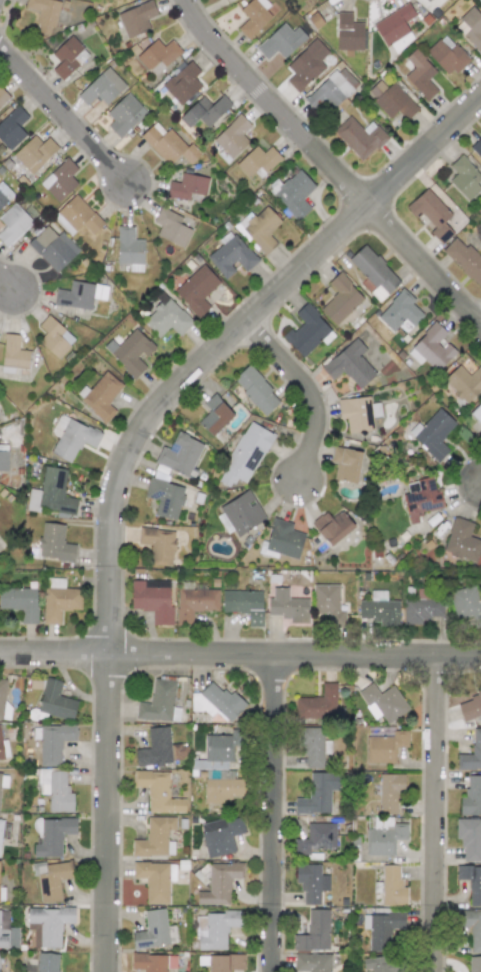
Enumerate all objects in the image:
building: (428, 0)
building: (480, 0)
building: (43, 14)
building: (254, 16)
building: (137, 18)
building: (394, 26)
building: (470, 27)
building: (281, 41)
building: (158, 53)
building: (447, 55)
building: (68, 57)
building: (306, 65)
building: (420, 74)
building: (182, 82)
building: (102, 88)
building: (329, 92)
building: (3, 96)
building: (391, 100)
building: (204, 111)
road: (66, 114)
building: (125, 114)
building: (12, 128)
building: (232, 136)
building: (360, 137)
building: (168, 145)
building: (476, 147)
building: (34, 153)
building: (257, 161)
road: (329, 165)
building: (465, 178)
building: (60, 180)
building: (187, 186)
building: (292, 193)
building: (4, 194)
building: (432, 214)
building: (77, 217)
building: (13, 224)
building: (171, 227)
building: (259, 229)
building: (53, 248)
building: (129, 249)
building: (231, 255)
building: (464, 259)
building: (374, 272)
road: (8, 282)
building: (197, 289)
building: (80, 295)
building: (340, 299)
building: (400, 311)
building: (167, 318)
building: (308, 331)
building: (54, 337)
road: (227, 341)
building: (431, 348)
building: (130, 352)
building: (13, 354)
building: (350, 364)
building: (464, 383)
building: (256, 390)
road: (309, 391)
building: (100, 396)
building: (358, 413)
building: (477, 413)
building: (215, 415)
building: (433, 434)
building: (72, 438)
building: (179, 454)
building: (245, 454)
building: (3, 457)
building: (346, 463)
building: (52, 494)
building: (165, 498)
building: (421, 499)
building: (242, 513)
building: (332, 526)
building: (284, 539)
building: (462, 540)
building: (54, 543)
building: (159, 544)
building: (152, 599)
building: (59, 600)
building: (20, 603)
building: (195, 603)
building: (244, 604)
building: (328, 604)
building: (466, 604)
building: (286, 605)
building: (379, 609)
road: (56, 652)
road: (296, 654)
building: (2, 697)
building: (56, 701)
building: (218, 702)
building: (383, 702)
building: (159, 703)
building: (318, 704)
building: (471, 707)
building: (54, 742)
building: (385, 746)
building: (313, 747)
building: (221, 748)
building: (3, 749)
building: (159, 749)
building: (471, 754)
building: (3, 779)
building: (56, 790)
building: (158, 792)
building: (390, 792)
building: (318, 793)
building: (471, 797)
road: (111, 812)
road: (272, 813)
road: (434, 813)
building: (1, 827)
building: (221, 835)
building: (53, 836)
building: (155, 838)
building: (316, 838)
building: (470, 838)
building: (384, 839)
building: (54, 880)
building: (155, 880)
building: (471, 882)
building: (220, 883)
building: (311, 883)
building: (392, 887)
building: (0, 918)
building: (51, 924)
building: (471, 928)
building: (215, 929)
building: (381, 929)
building: (154, 931)
building: (314, 932)
building: (3, 941)
building: (47, 962)
building: (153, 962)
building: (225, 962)
building: (312, 963)
building: (387, 963)
building: (474, 964)
building: (0, 970)

